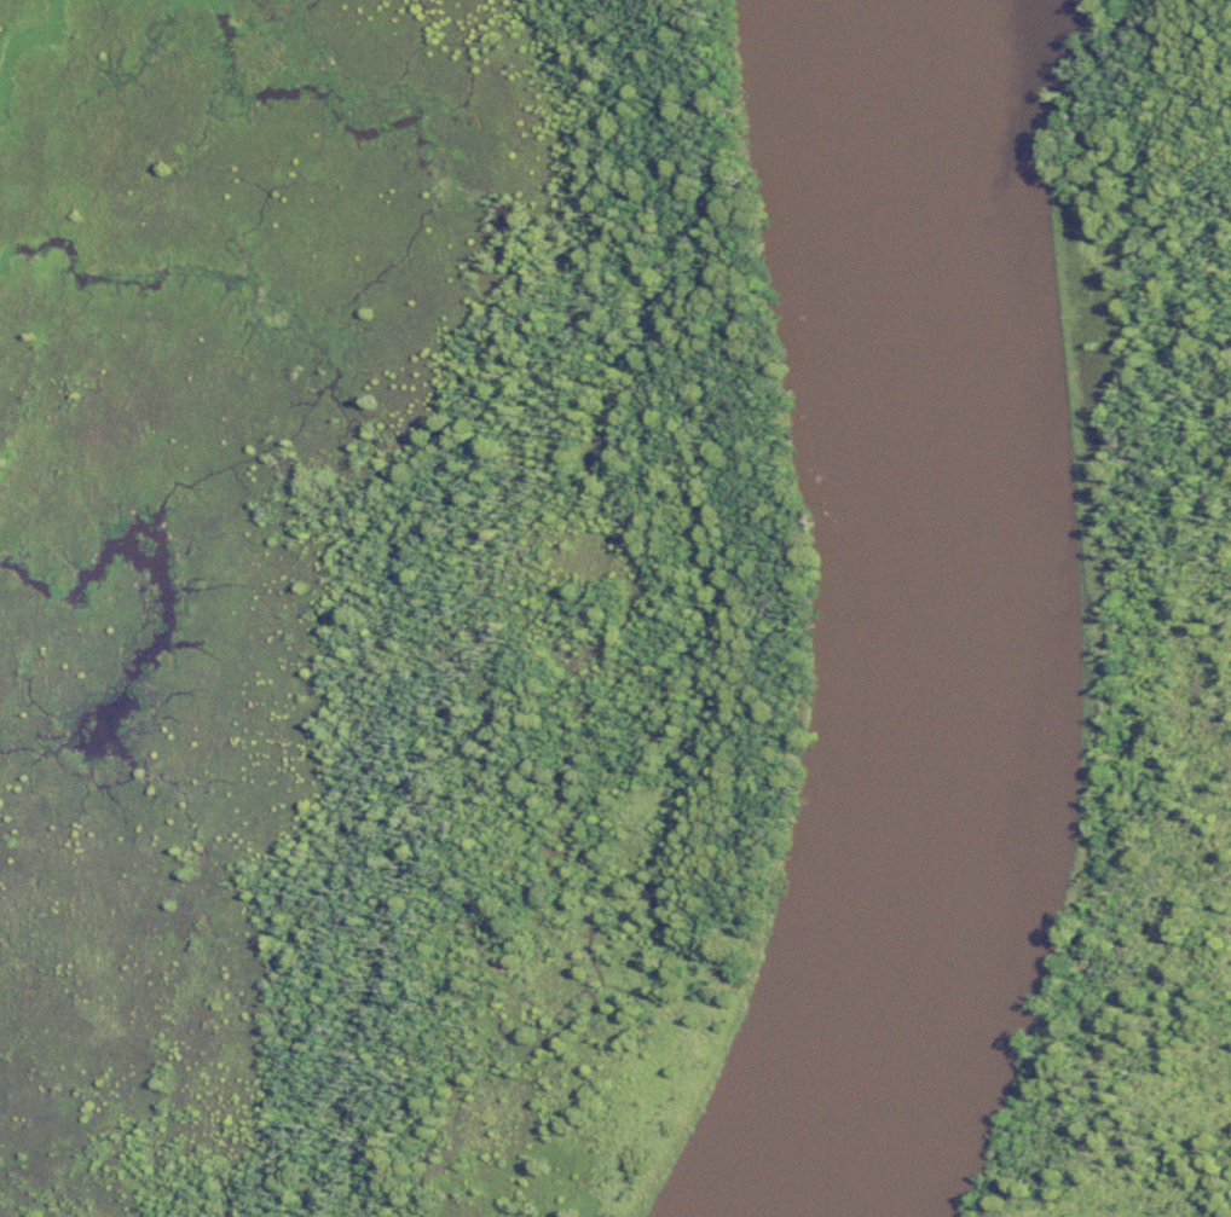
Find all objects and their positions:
river: (918, 620)

